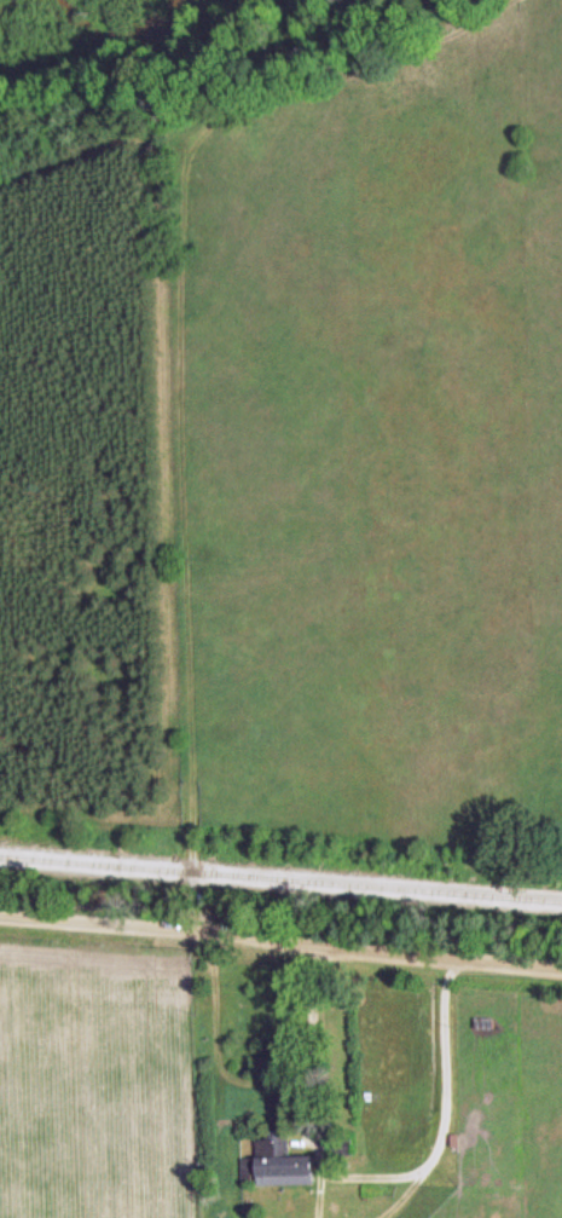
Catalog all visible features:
railway: (280, 879)
road: (280, 936)
building: (277, 1164)

